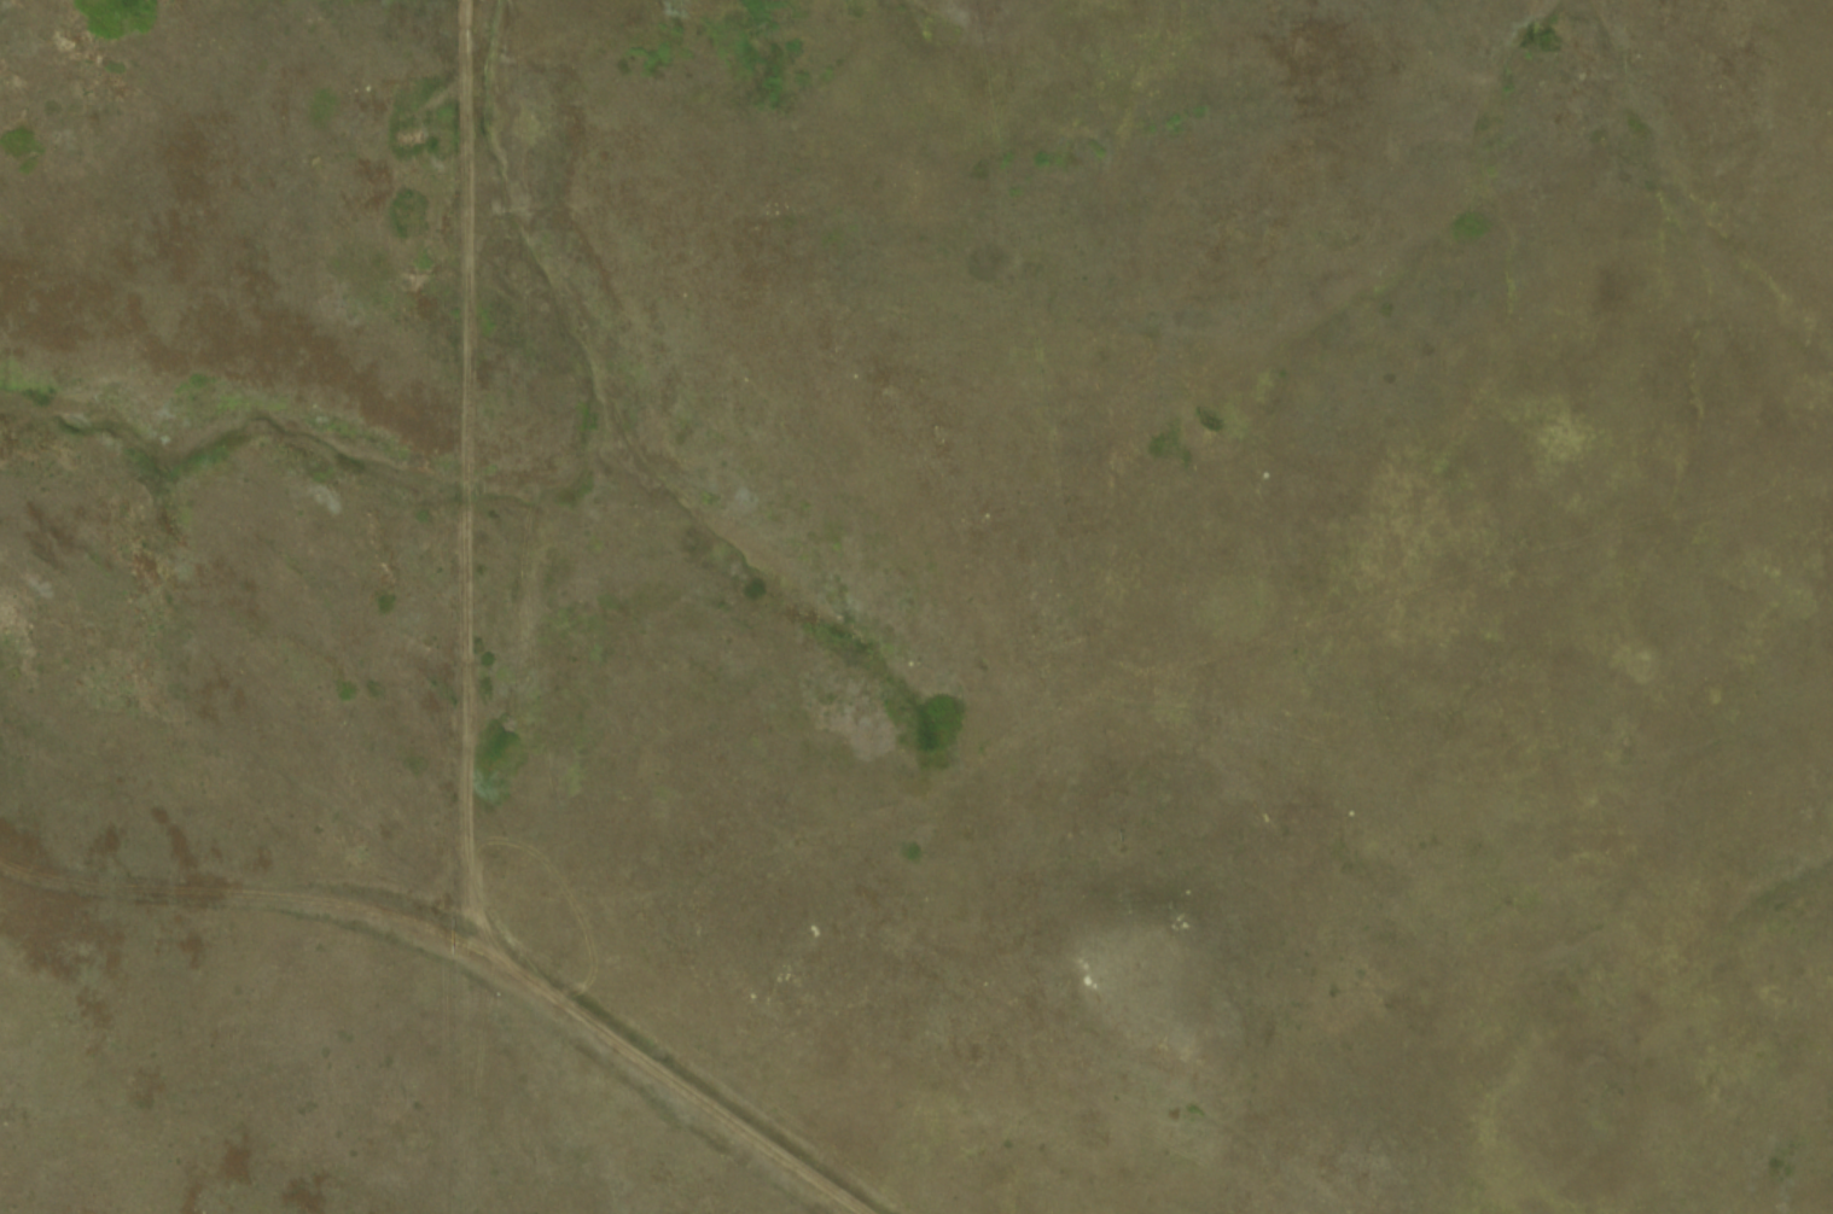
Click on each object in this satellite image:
road: (449, 950)

